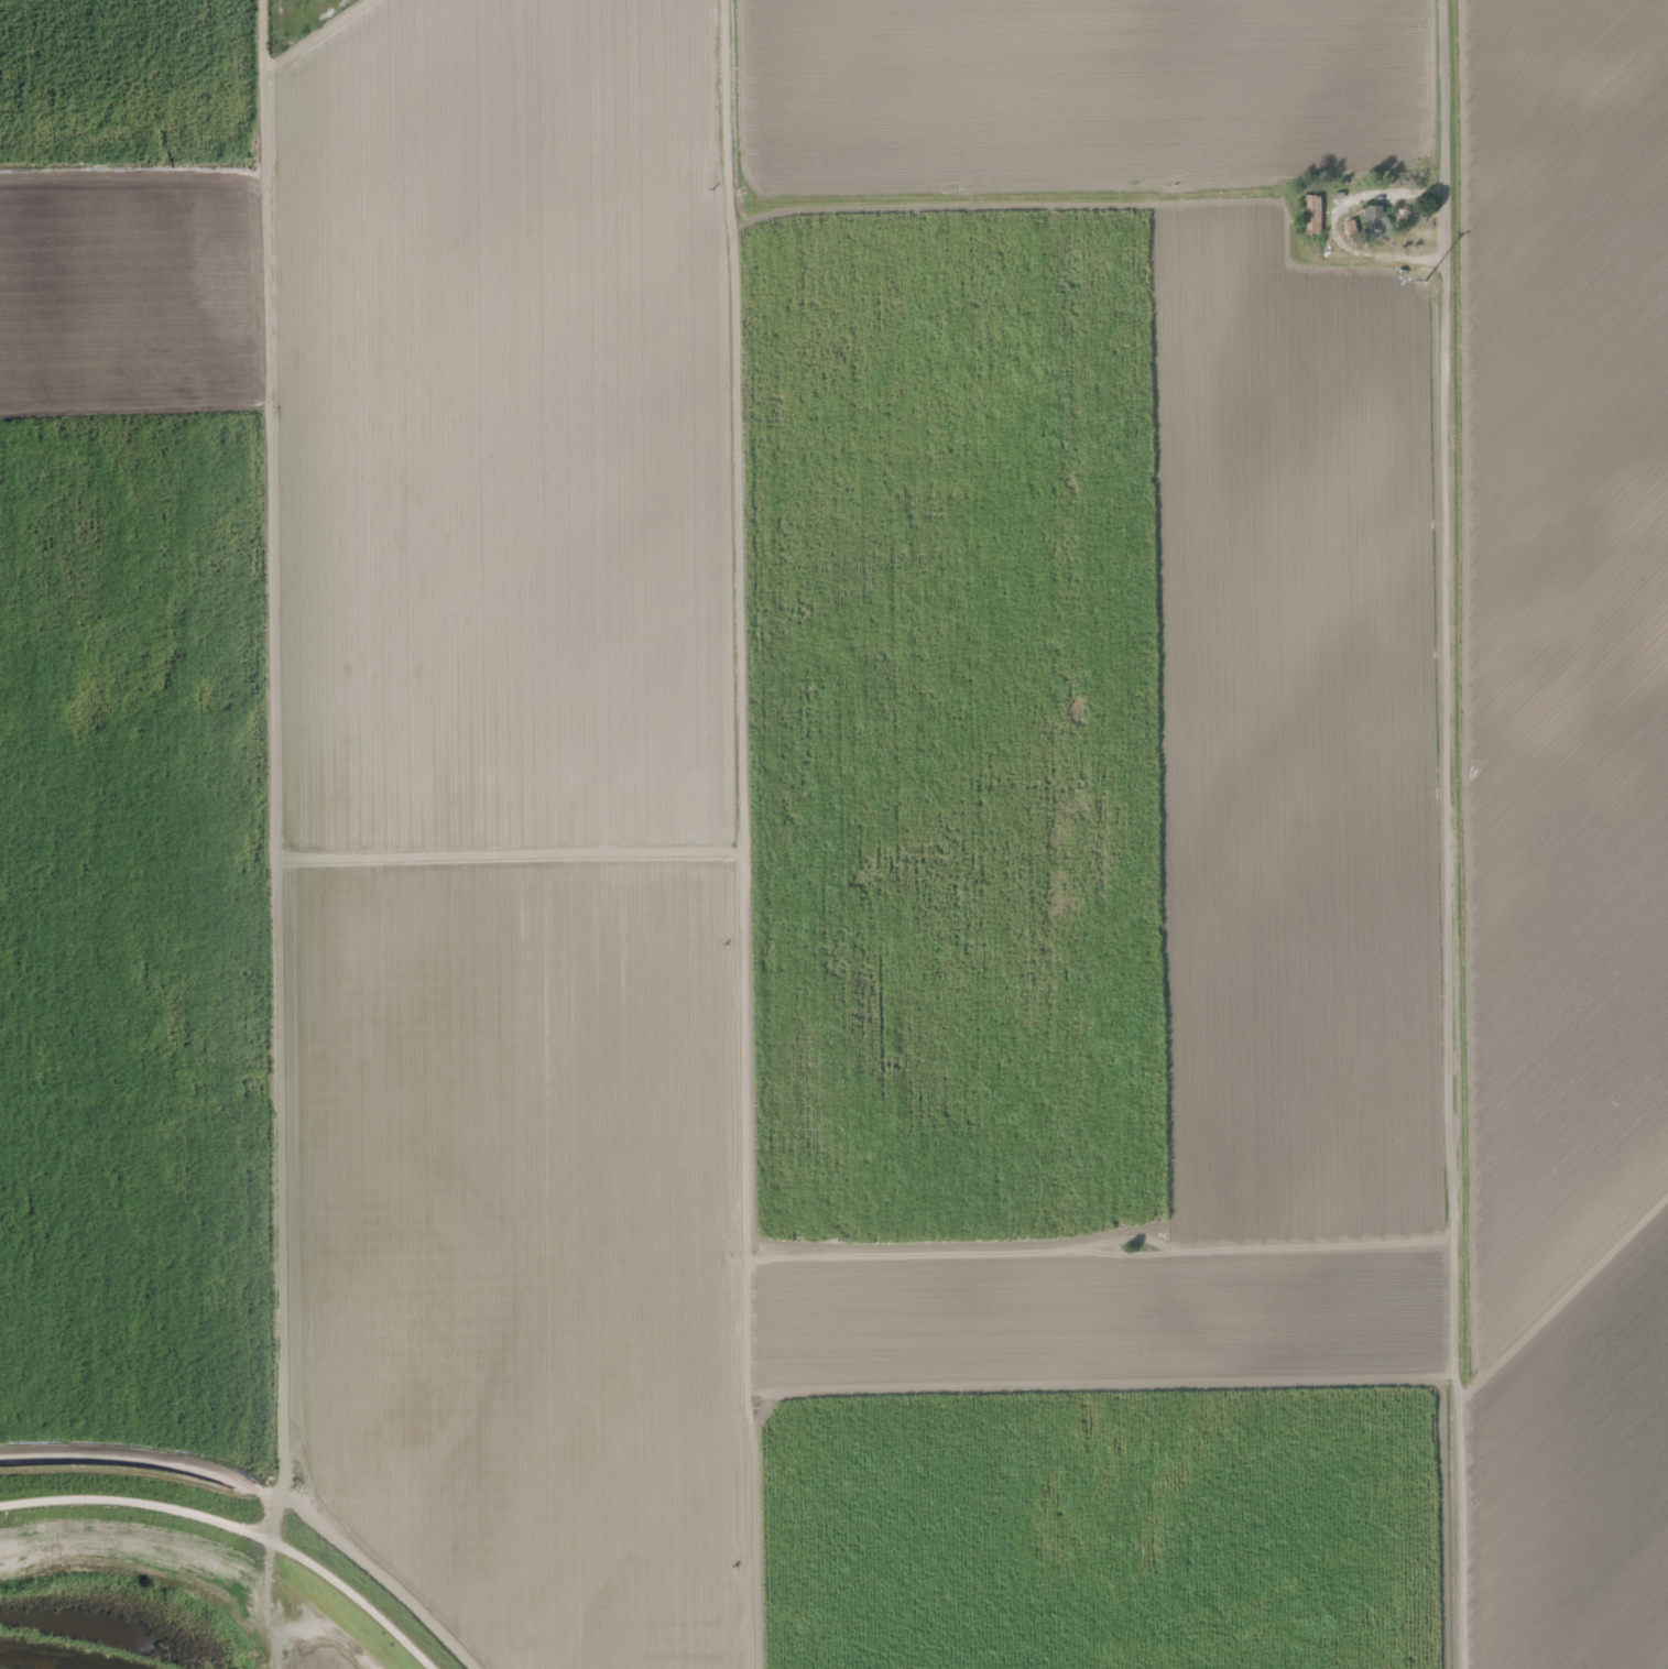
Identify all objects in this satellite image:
road: (1442, 131)
building: (1313, 215)
building: (1378, 221)
building: (1351, 229)
building: (1627, 381)
building: (1490, 840)
road: (232, 1532)

